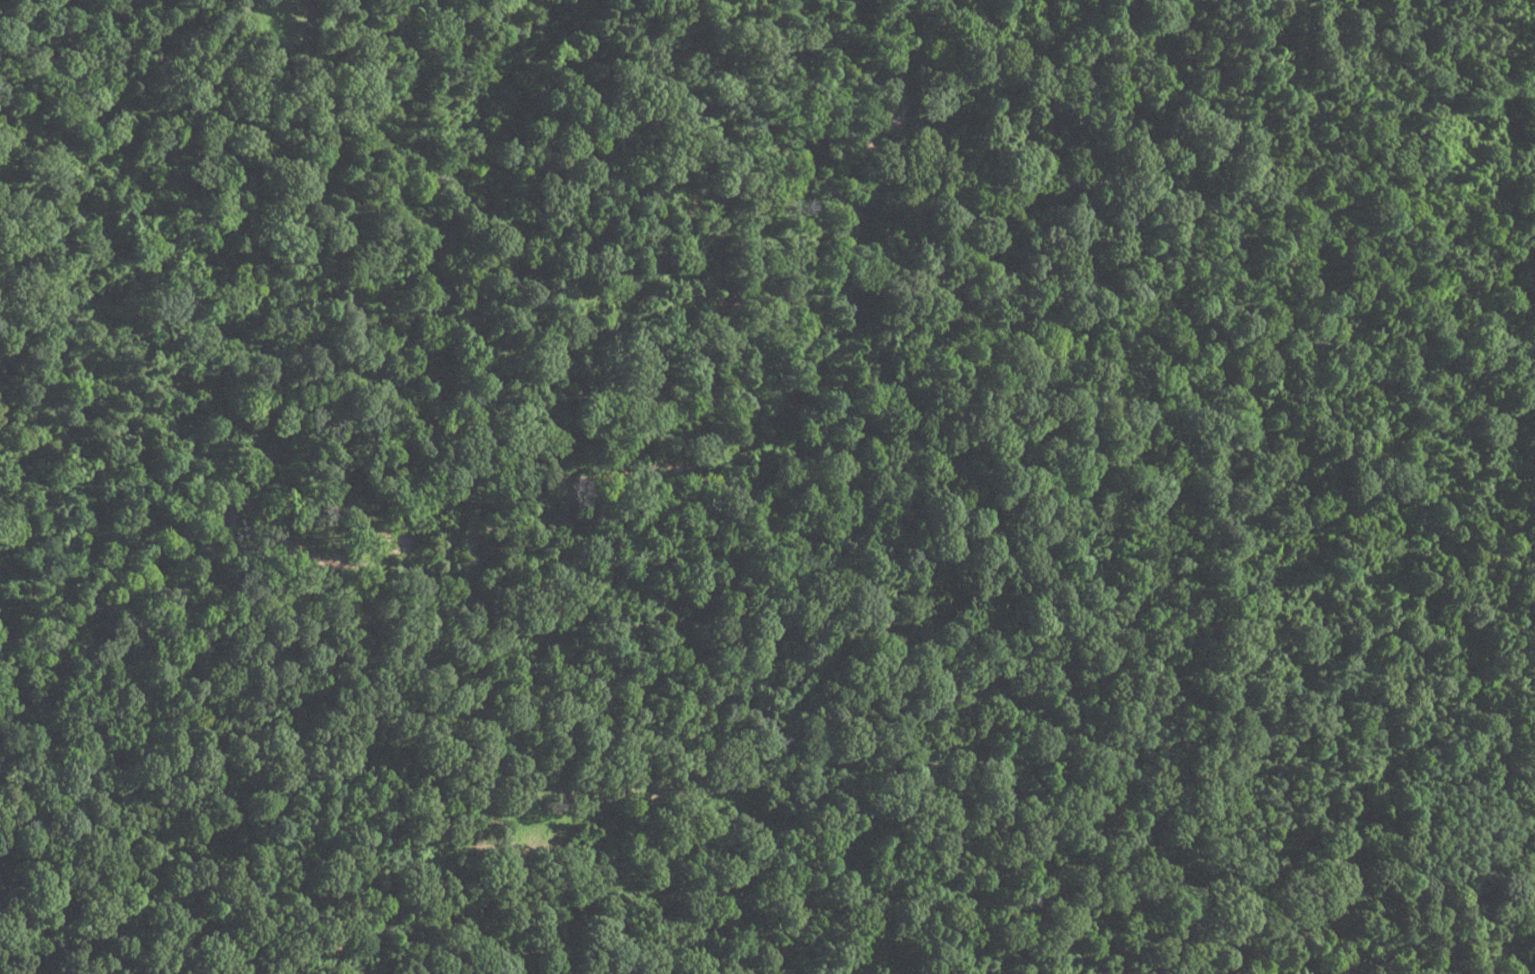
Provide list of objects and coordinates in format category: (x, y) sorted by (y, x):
road: (670, 824)

